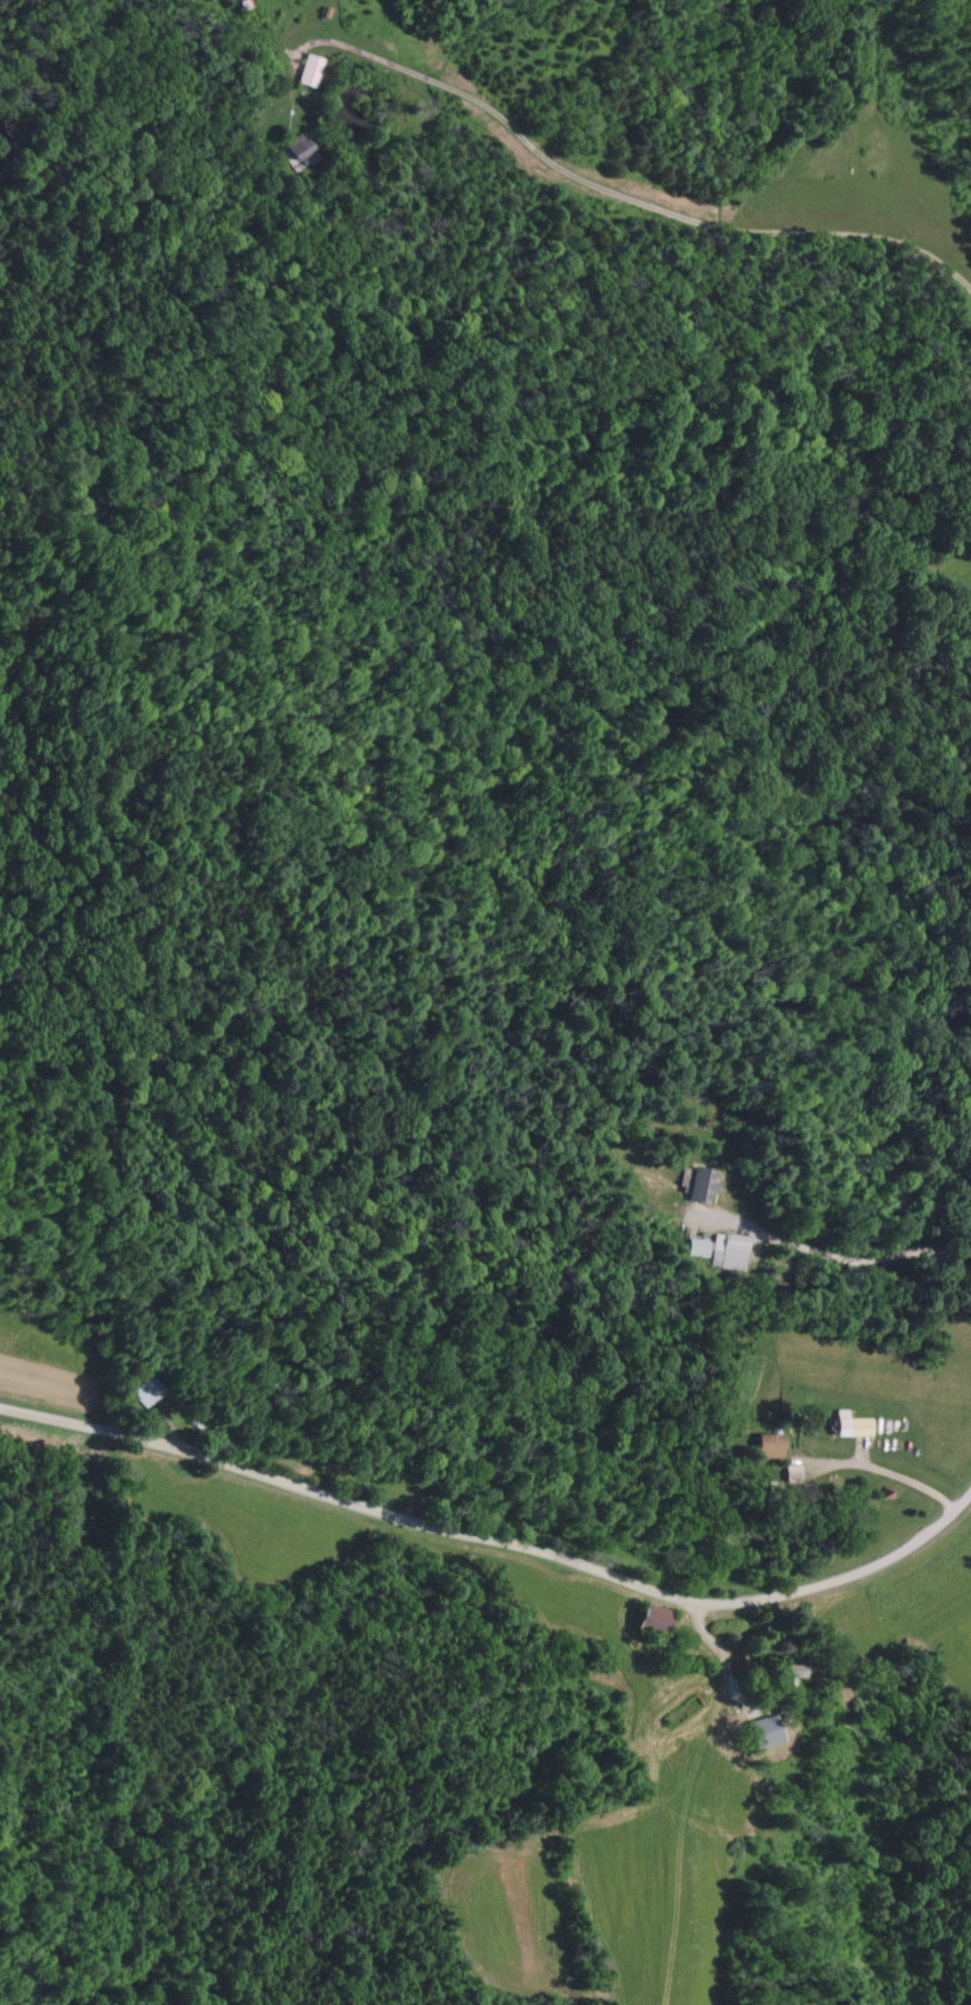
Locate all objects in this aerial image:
road: (330, 20)
building: (308, 71)
building: (296, 149)
road: (658, 162)
building: (698, 1186)
building: (694, 1249)
building: (726, 1252)
building: (142, 1393)
building: (849, 1426)
road: (889, 1443)
building: (766, 1447)
road: (505, 1531)
road: (730, 1644)

